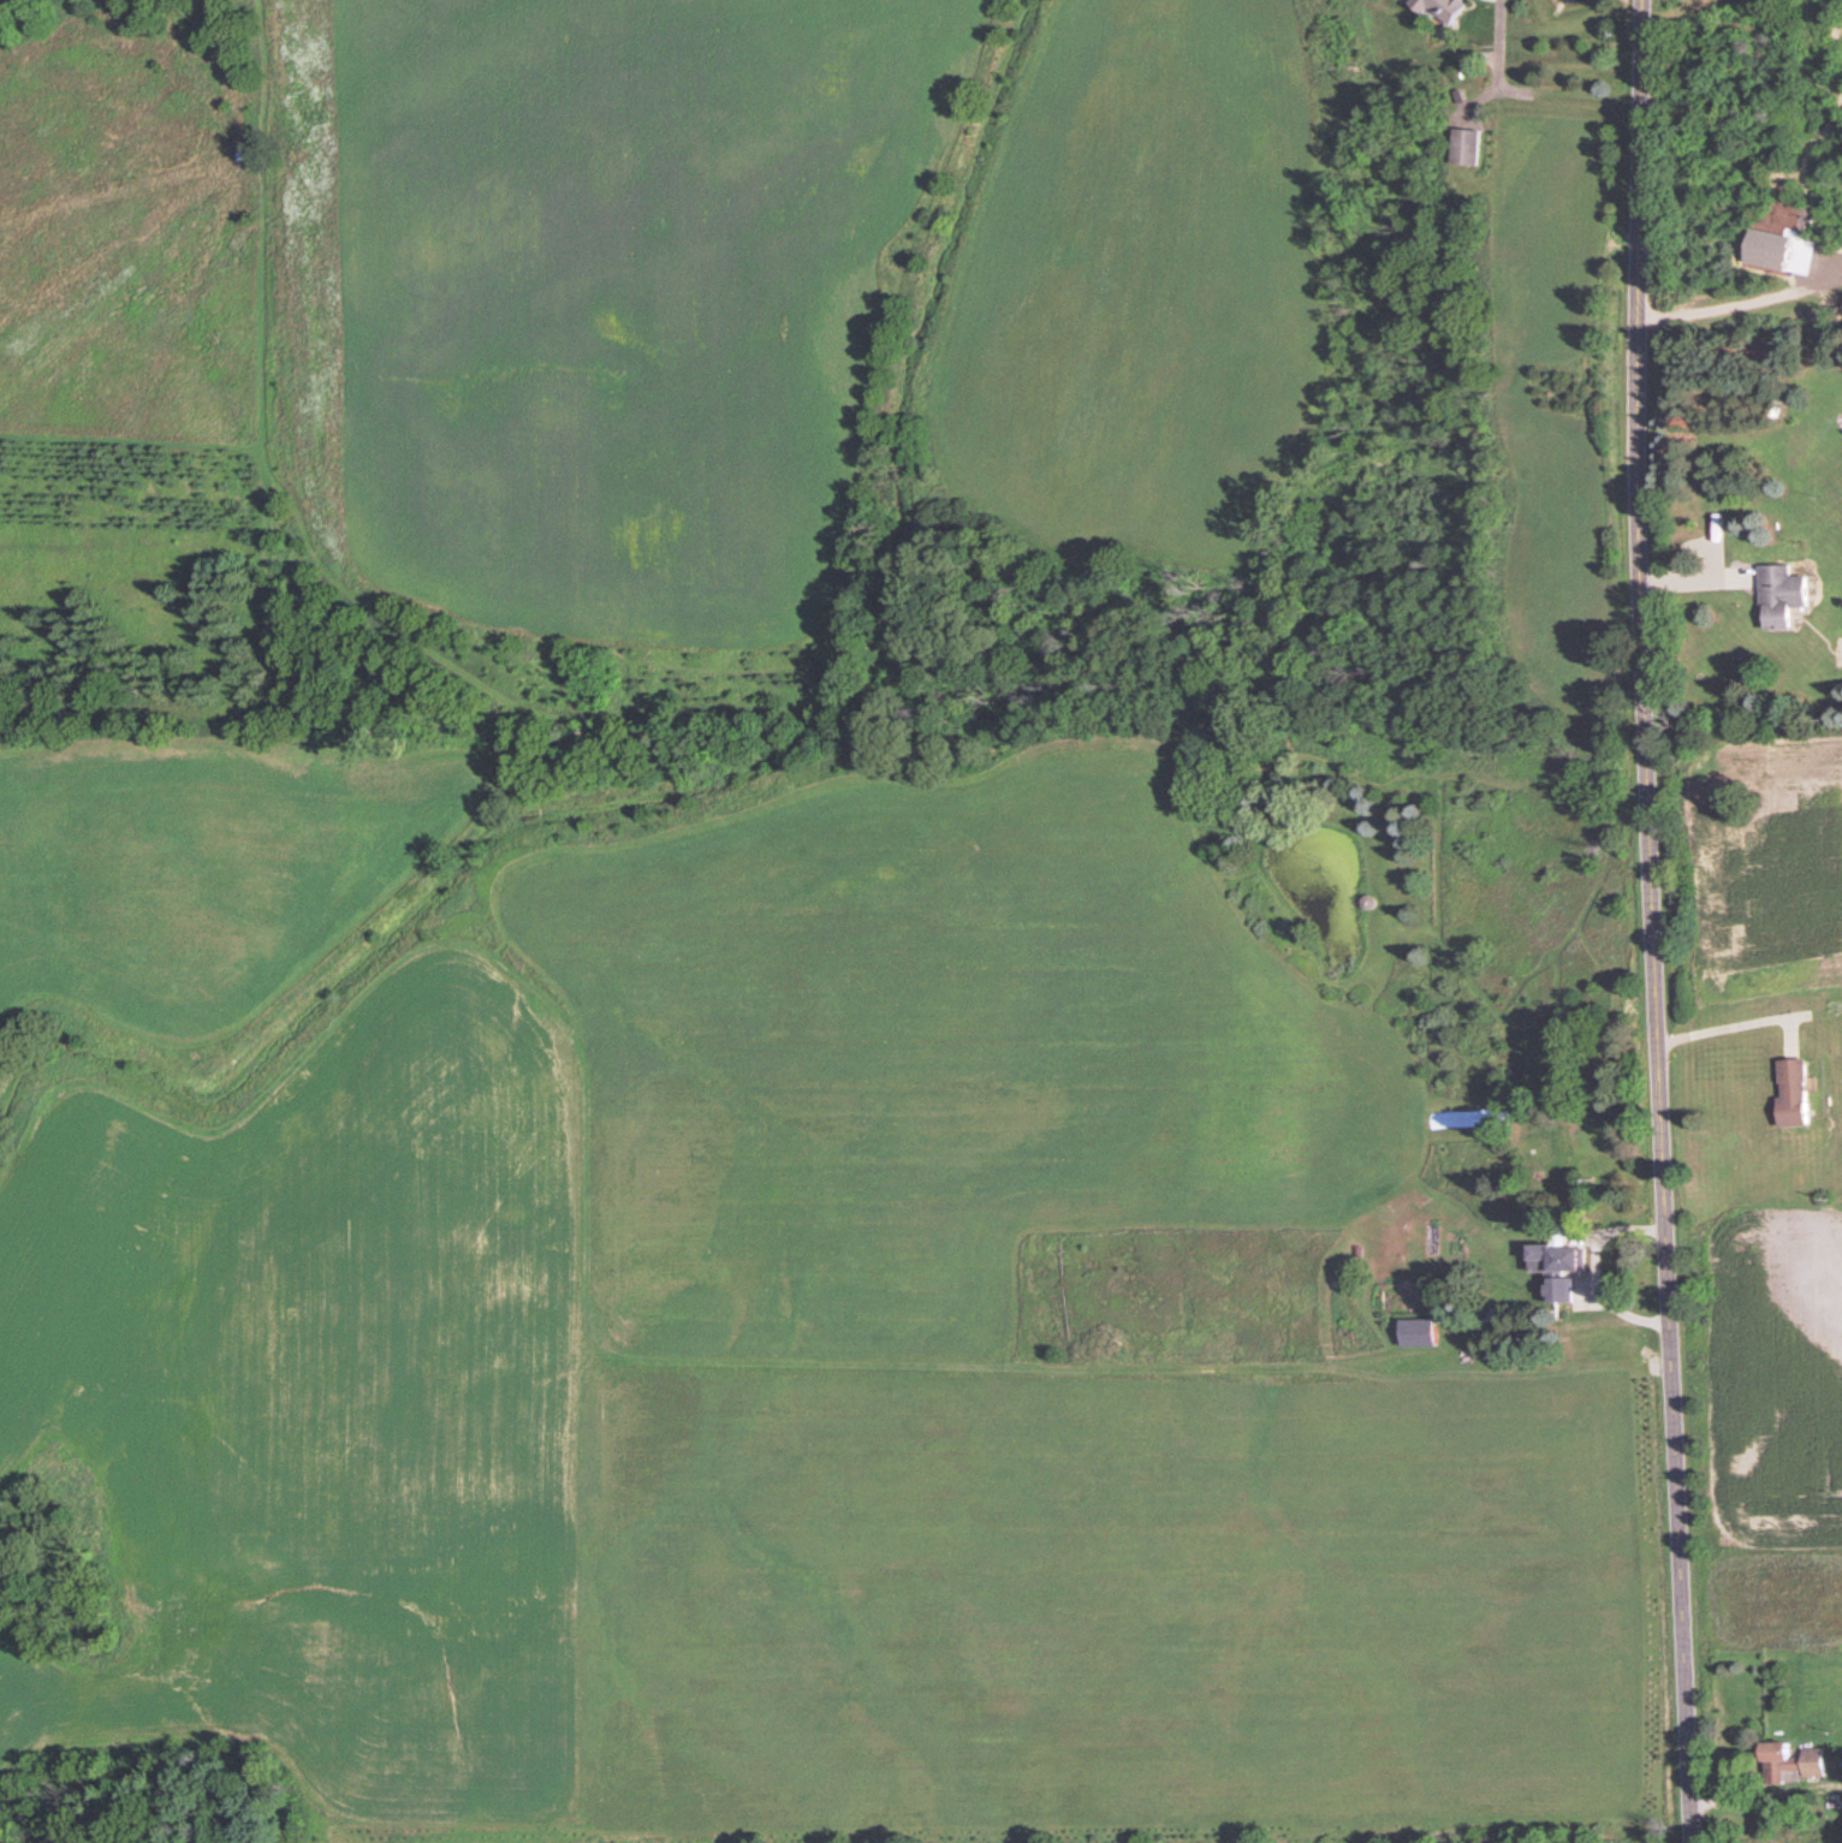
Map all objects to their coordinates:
building: (1436, 10)
building: (1461, 149)
road: (1739, 309)
building: (1775, 599)
road: (1652, 921)
road: (1733, 1027)
building: (1787, 1093)
building: (1552, 1258)
building: (1556, 1290)
building: (1413, 1332)
building: (1787, 1764)
building: (1841, 1833)

